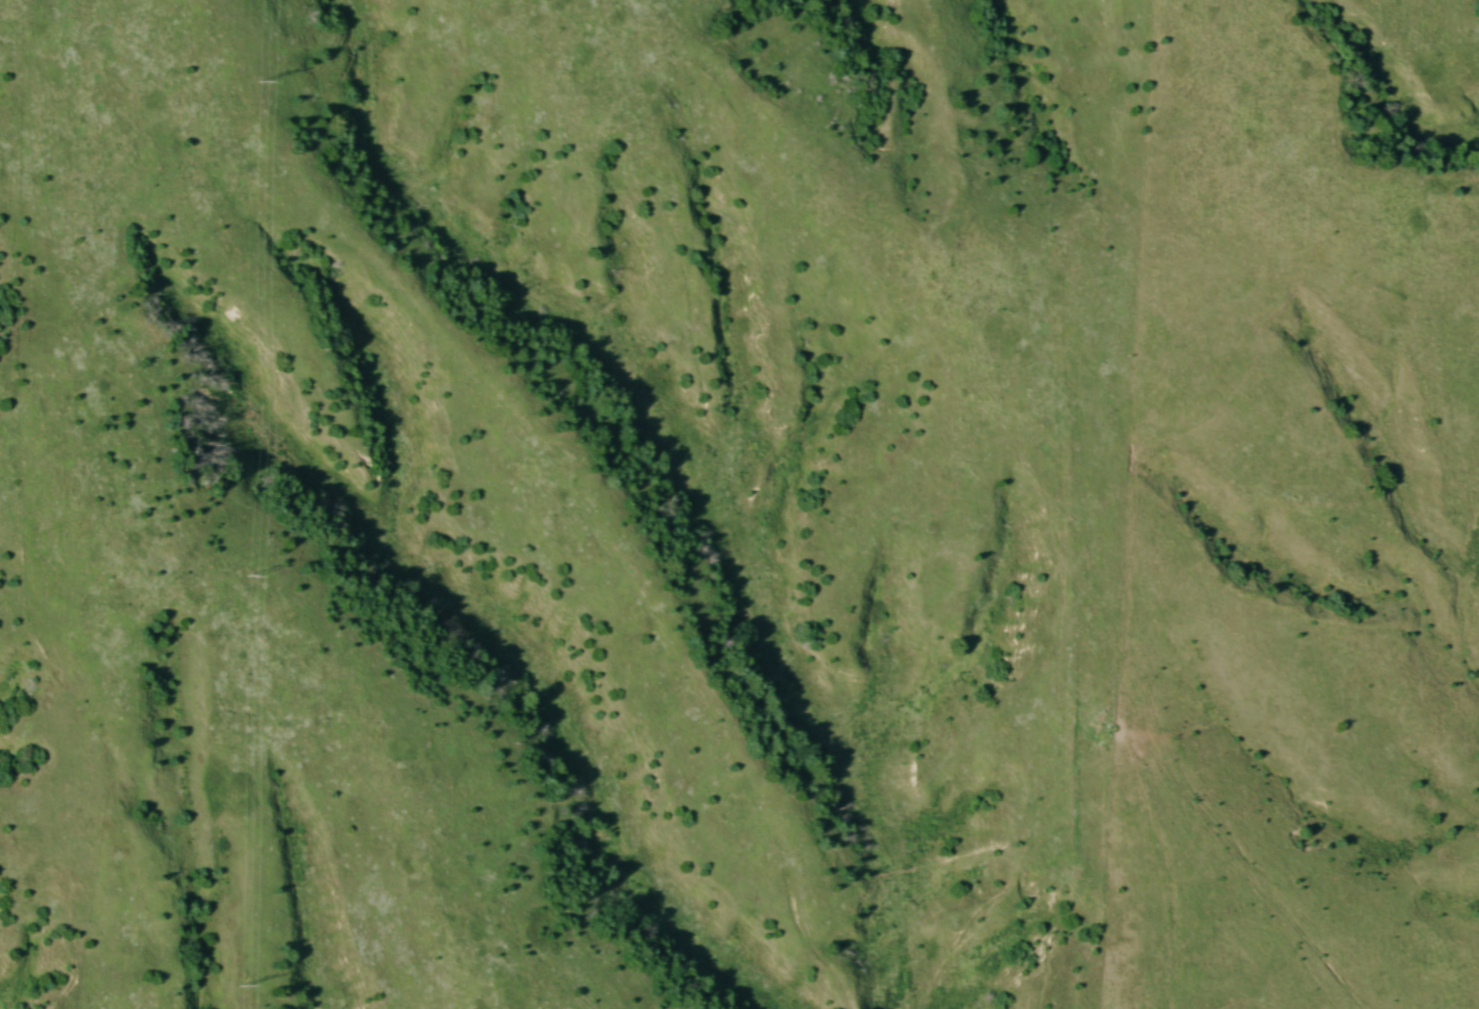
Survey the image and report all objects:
power tower: (258, 83)
power tower: (250, 579)
power tower: (241, 990)

